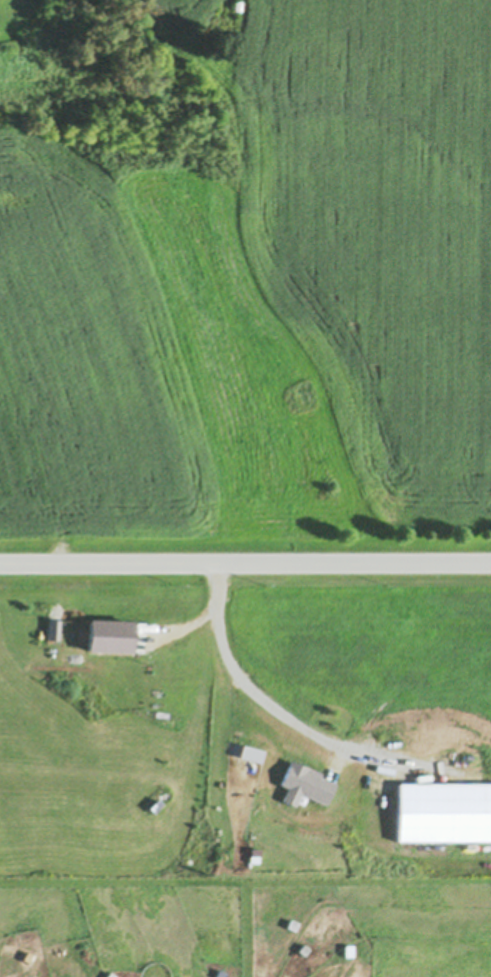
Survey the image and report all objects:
building: (236, 4)
road: (245, 563)
building: (180, 644)
road: (253, 692)
building: (396, 752)
building: (255, 785)
building: (445, 812)
building: (157, 822)
building: (294, 924)
building: (13, 938)
building: (305, 950)
building: (350, 951)
building: (222, 973)

